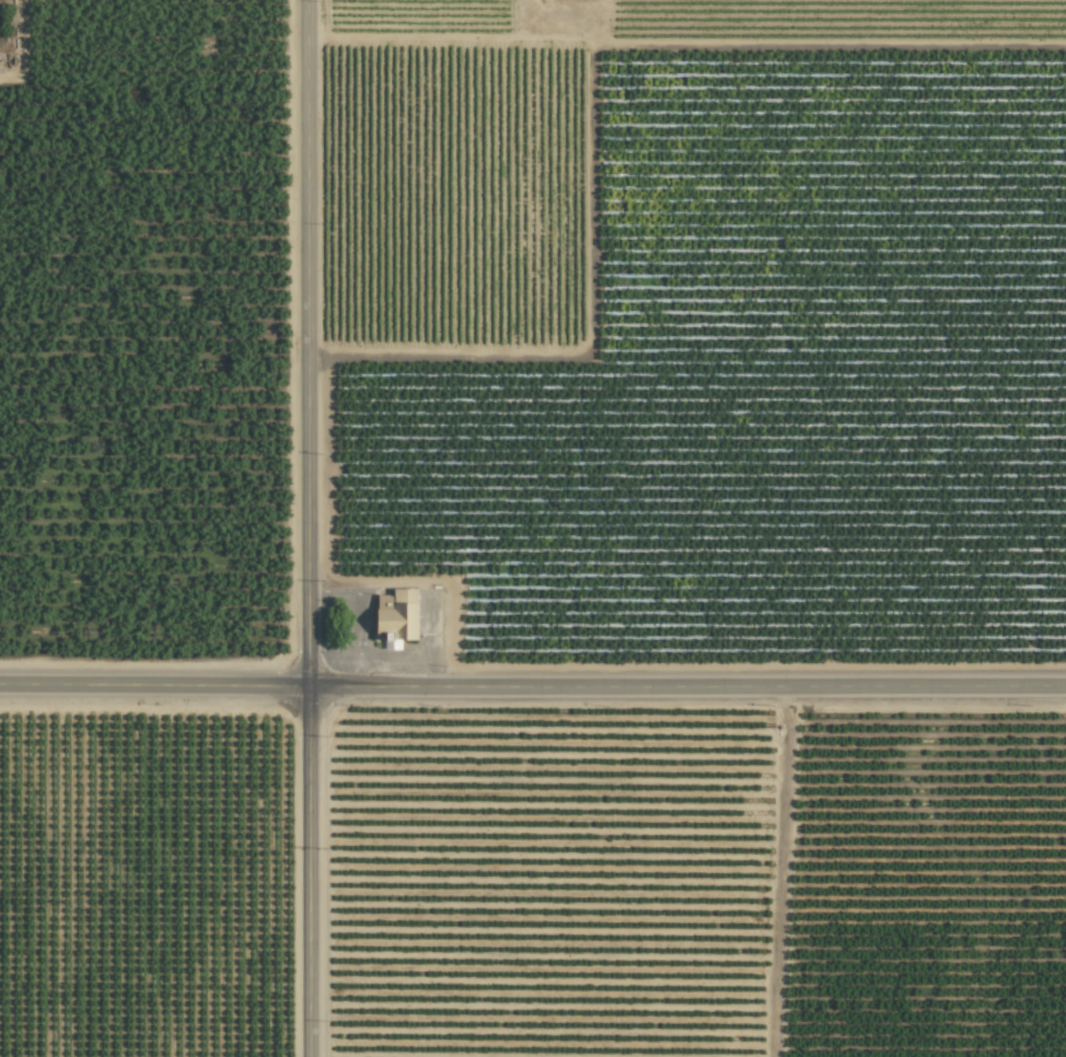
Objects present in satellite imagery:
road: (306, 528)
road: (532, 685)

